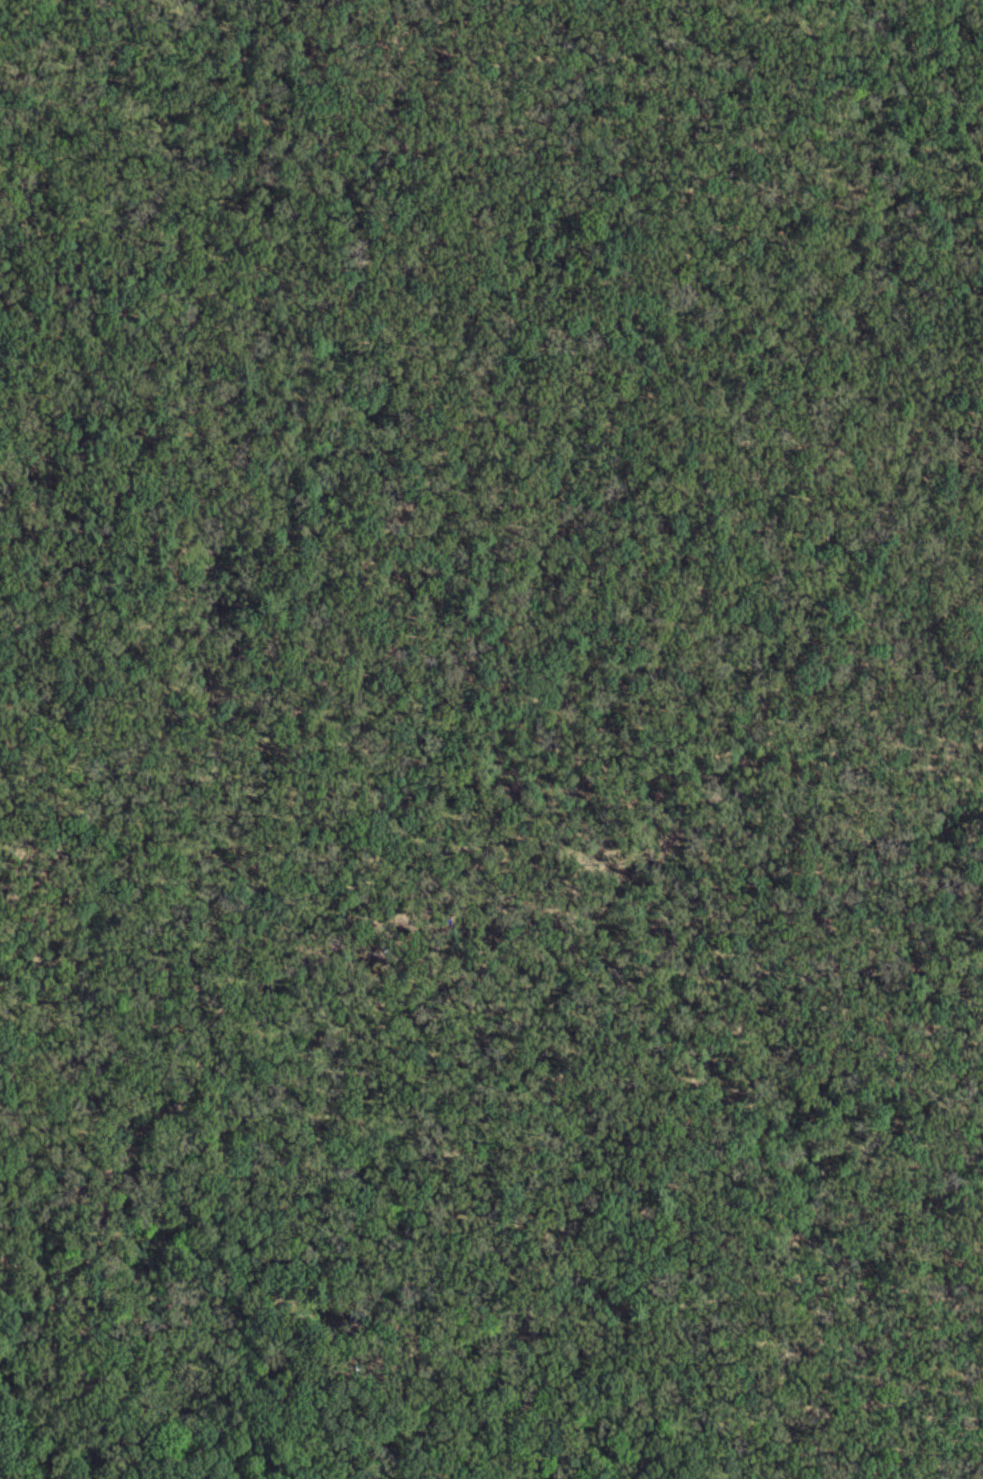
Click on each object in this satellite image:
road: (21, 124)

